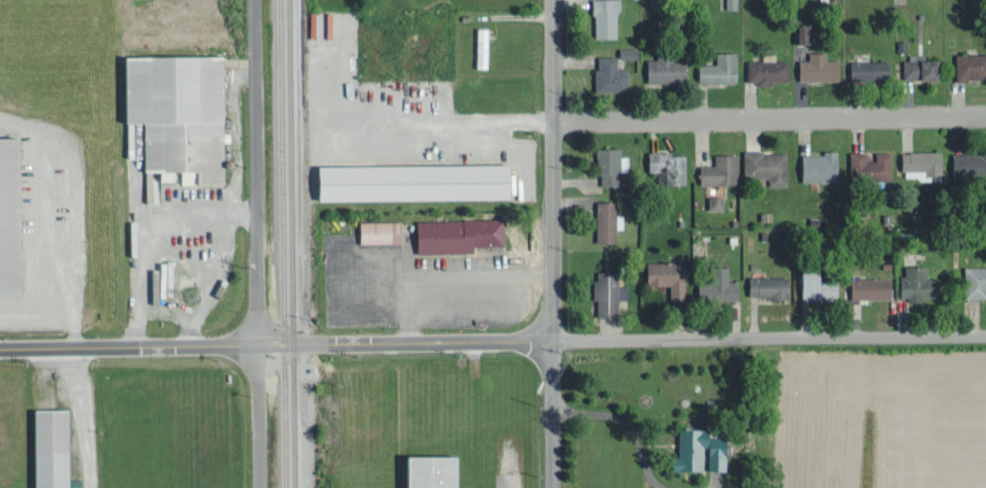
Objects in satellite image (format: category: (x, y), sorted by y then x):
building: (601, 18)
building: (797, 32)
building: (478, 46)
building: (624, 51)
building: (968, 65)
building: (813, 66)
building: (914, 66)
building: (714, 68)
building: (864, 68)
building: (660, 69)
building: (764, 70)
building: (605, 74)
building: (172, 112)
road: (768, 114)
building: (919, 160)
building: (967, 163)
building: (604, 165)
building: (663, 165)
building: (762, 165)
building: (816, 165)
building: (866, 165)
building: (716, 169)
road: (255, 171)
building: (401, 180)
road: (550, 193)
building: (12, 216)
building: (374, 230)
building: (450, 233)
railway: (283, 244)
railway: (294, 244)
building: (662, 276)
building: (972, 280)
building: (911, 282)
building: (713, 284)
building: (813, 284)
building: (764, 285)
building: (865, 287)
building: (602, 294)
building: (850, 308)
road: (493, 341)
road: (258, 415)
road: (552, 437)
building: (46, 448)
building: (695, 450)
building: (424, 471)

